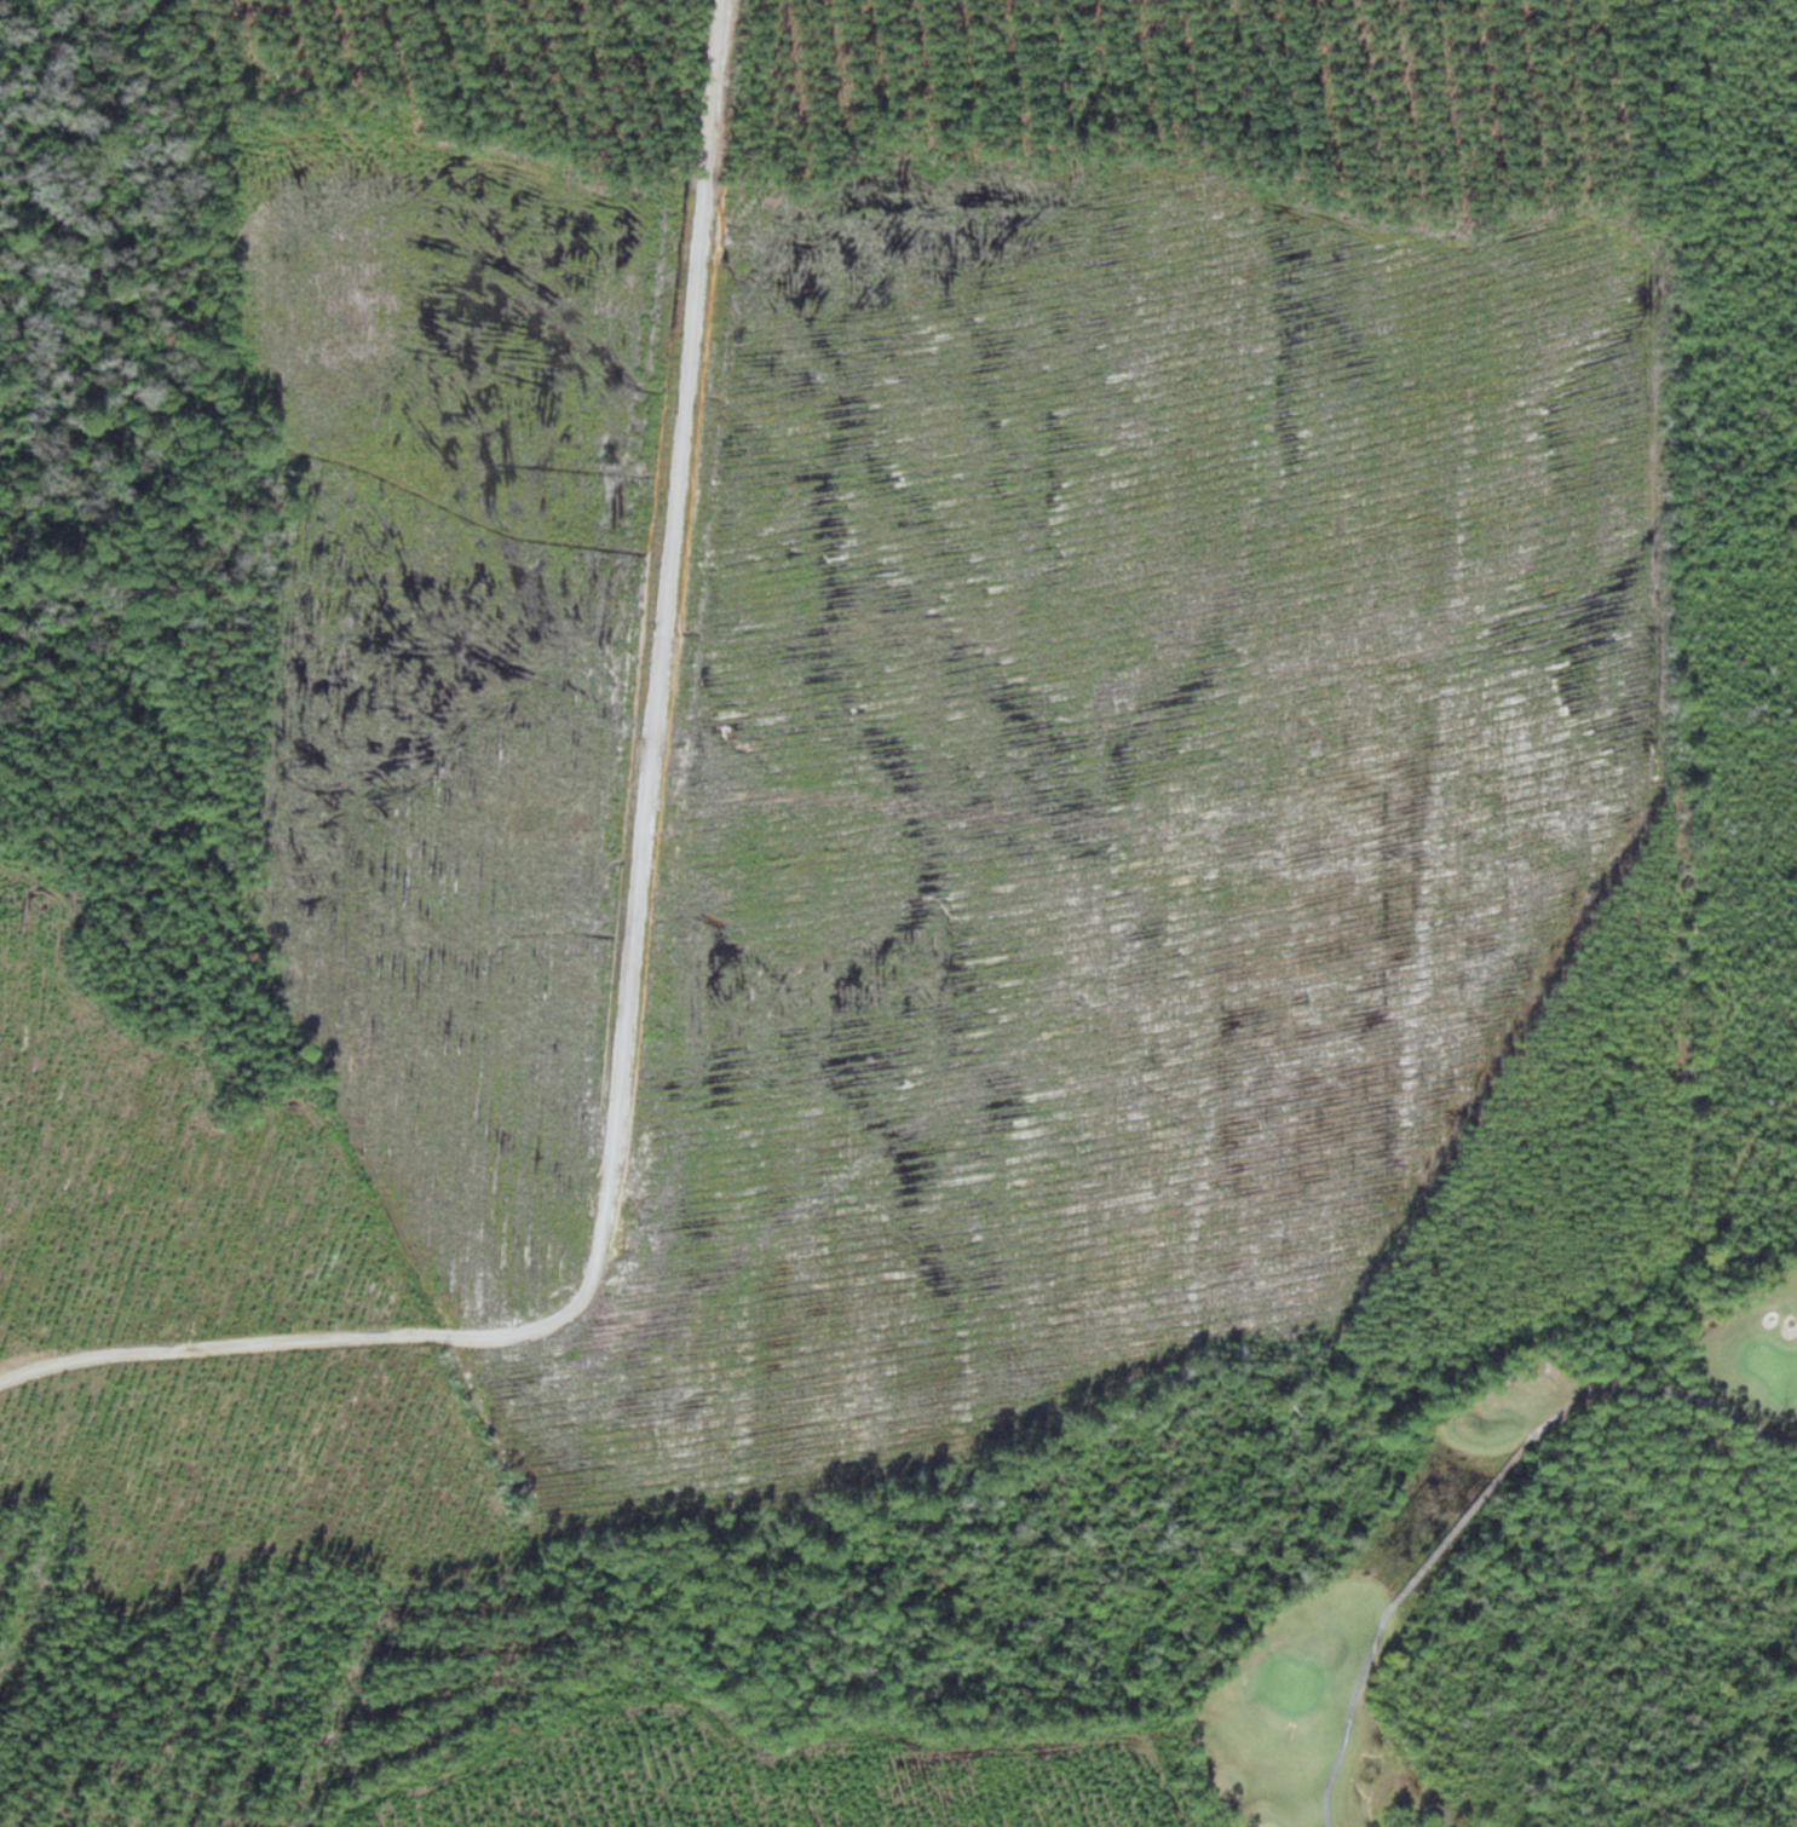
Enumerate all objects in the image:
road: (693, 501)

